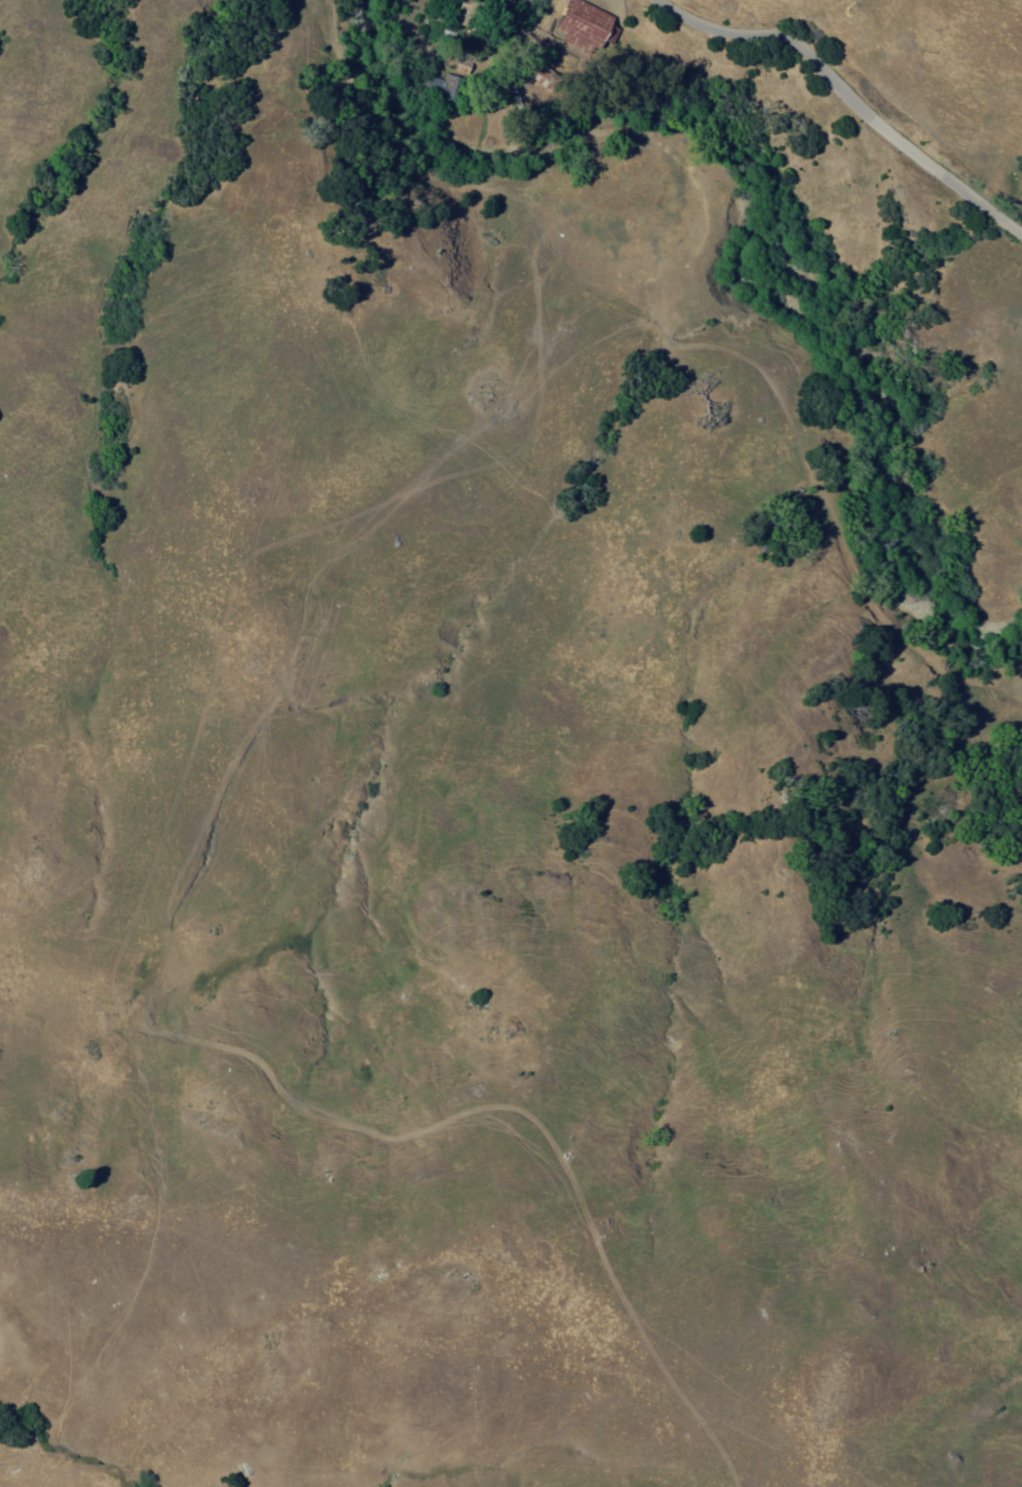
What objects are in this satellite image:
building: (470, 14)
building: (588, 27)
building: (466, 60)
building: (538, 64)
building: (445, 88)
road: (846, 97)

